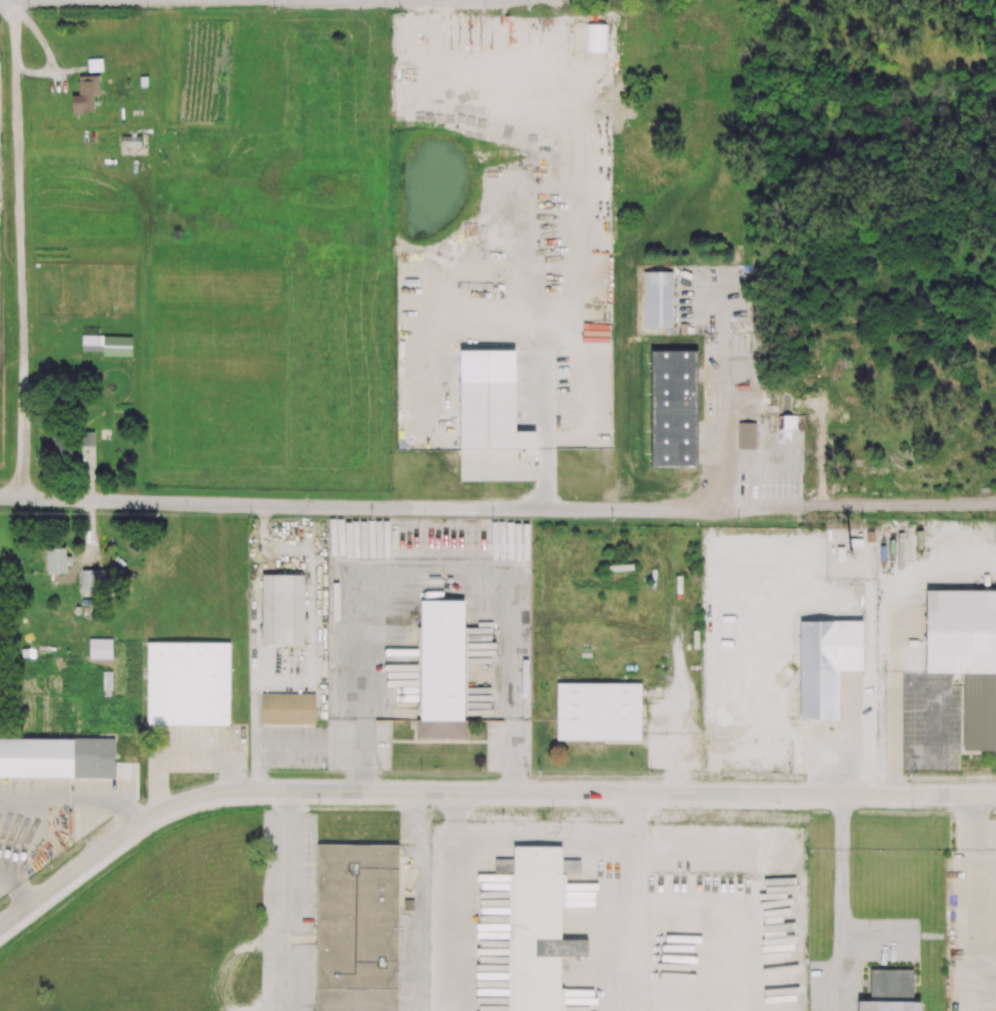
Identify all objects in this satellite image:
road: (18, 249)
road: (720, 317)
road: (721, 426)
road: (549, 450)
road: (847, 505)
road: (349, 507)
road: (441, 575)
building: (283, 609)
road: (894, 638)
building: (966, 656)
building: (827, 664)
building: (442, 670)
building: (189, 684)
building: (288, 709)
building: (599, 712)
parking lot: (930, 721)
road: (936, 722)
road: (290, 745)
parking lot: (359, 745)
road: (256, 746)
parking lot: (509, 746)
parking lot: (296, 747)
road: (182, 749)
parking lot: (198, 750)
road: (366, 755)
road: (517, 756)
building: (57, 759)
road: (477, 792)
road: (290, 803)
road: (455, 807)
road: (637, 808)
road: (40, 810)
road: (841, 822)
road: (976, 822)
parking lot: (975, 834)
road: (546, 837)
road: (685, 845)
parking lot: (696, 849)
road: (419, 901)
parking lot: (288, 910)
road: (289, 913)
road: (636, 913)
road: (454, 916)
building: (357, 928)
building: (539, 930)
road: (840, 930)
road: (977, 930)
building: (889, 1006)

